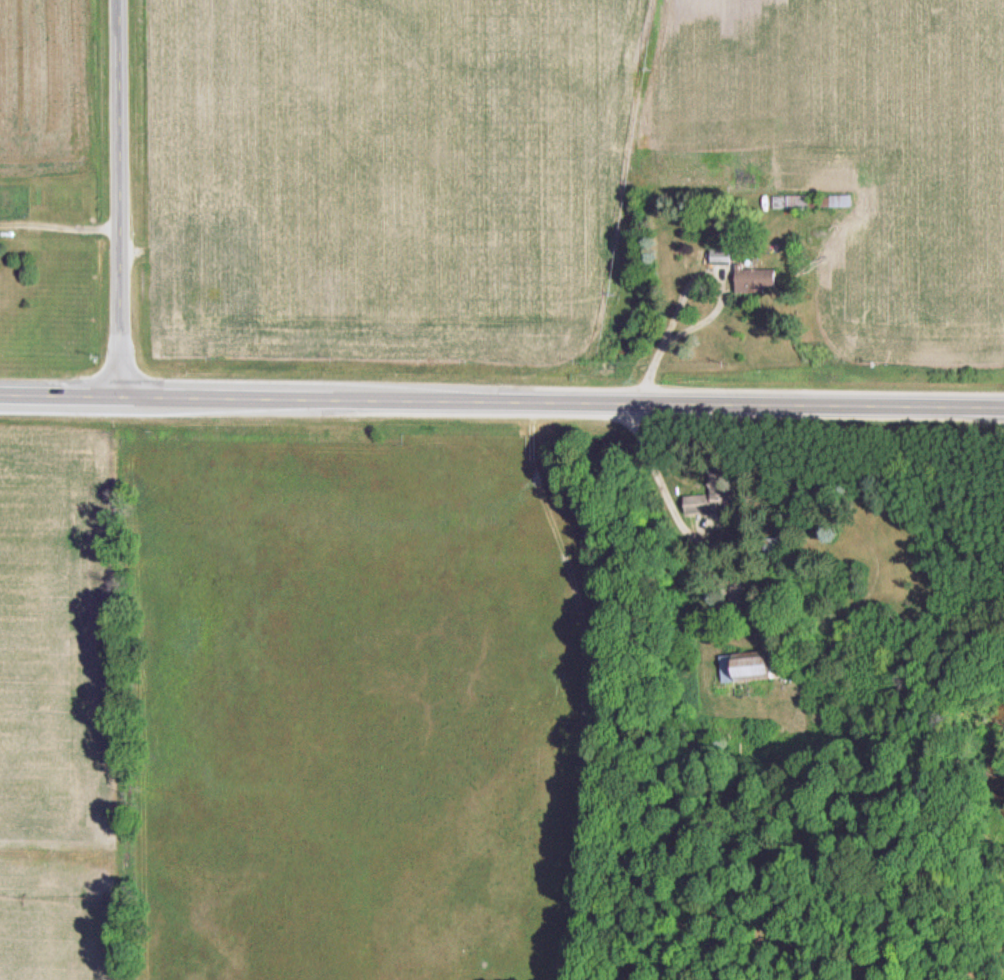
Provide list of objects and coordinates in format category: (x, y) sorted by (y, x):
road: (121, 198)
building: (791, 202)
building: (842, 202)
building: (723, 255)
building: (757, 276)
road: (501, 401)
building: (720, 491)
building: (780, 545)
building: (752, 667)

